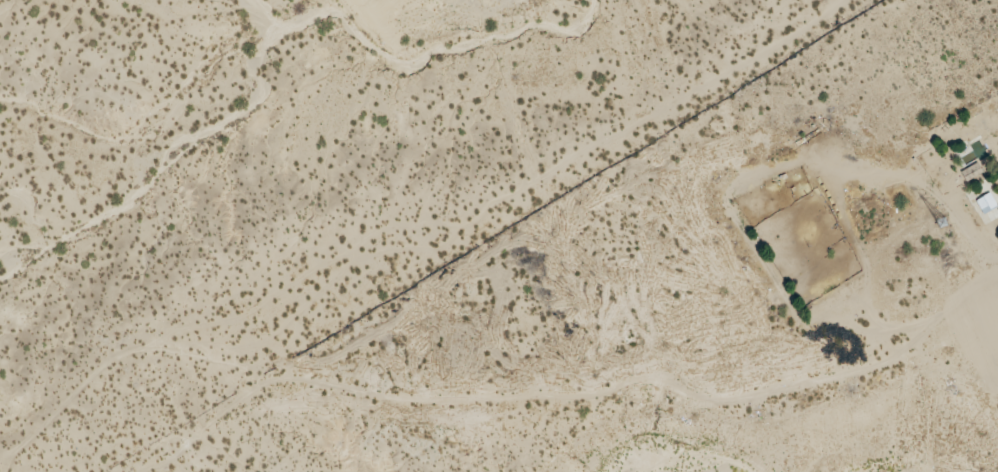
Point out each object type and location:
power tower: (940, 222)

